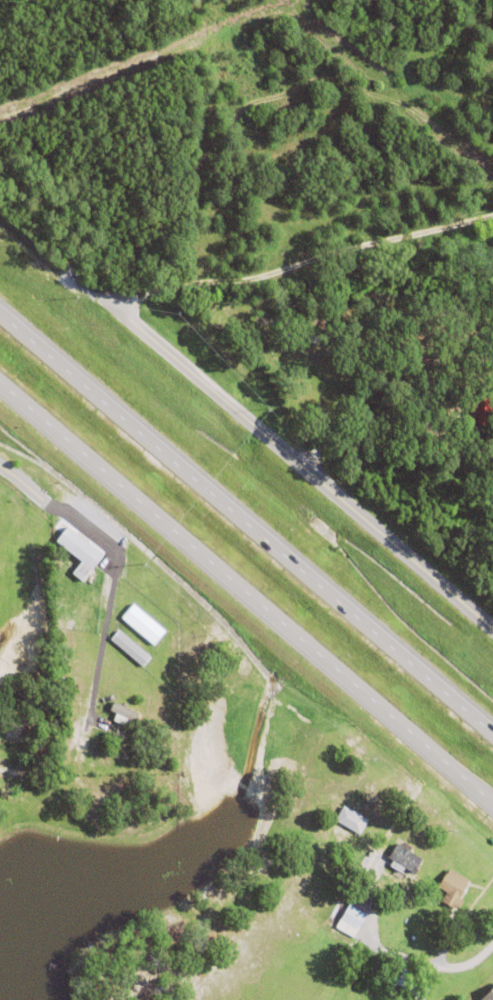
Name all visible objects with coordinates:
road: (303, 259)
building: (482, 407)
road: (371, 418)
road: (297, 464)
road: (24, 487)
road: (246, 523)
road: (100, 543)
building: (79, 550)
road: (246, 595)
building: (144, 623)
building: (131, 648)
building: (125, 713)
building: (129, 730)
building: (351, 820)
building: (405, 859)
building: (344, 868)
building: (453, 888)
building: (352, 921)
building: (336, 974)
building: (410, 982)
building: (488, 996)

